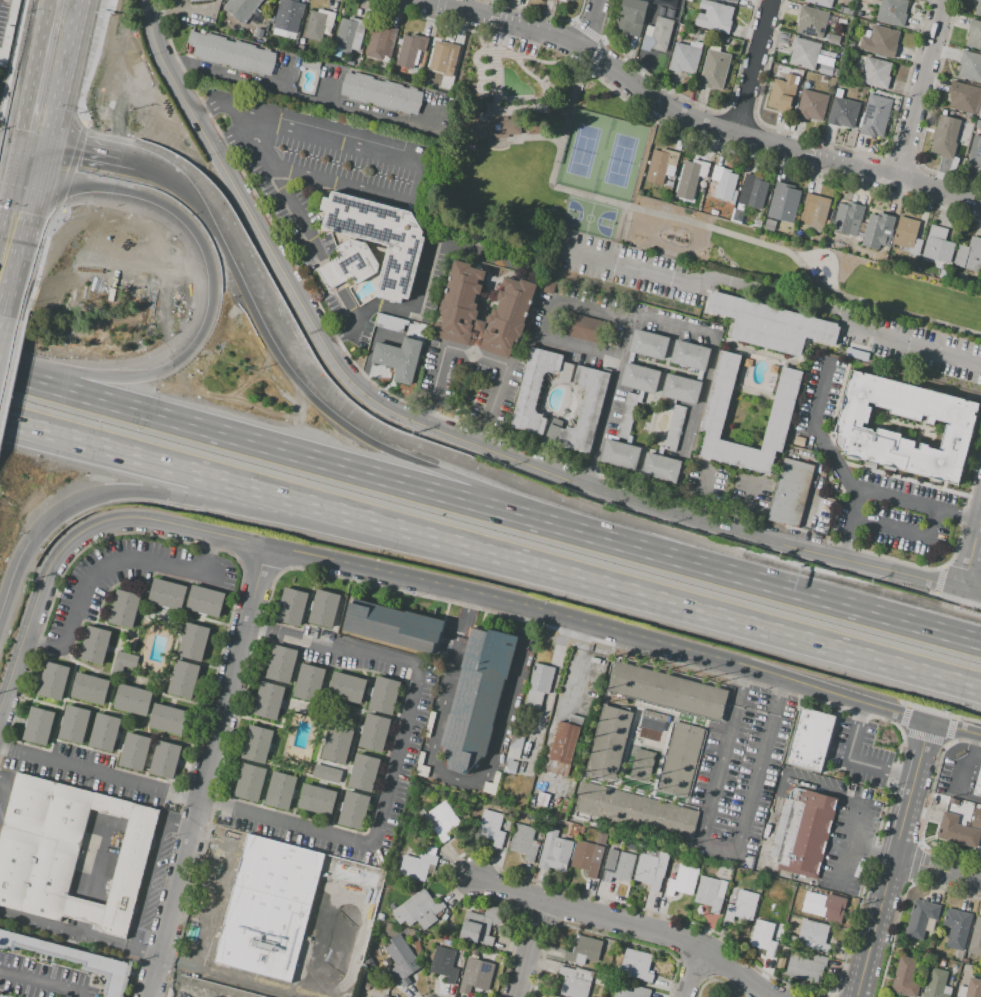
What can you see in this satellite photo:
building: (196, 0)
building: (563, 0)
building: (570, 0)
building: (732, 1)
building: (821, 2)
building: (673, 4)
building: (244, 8)
building: (978, 8)
road: (532, 11)
building: (847, 11)
building: (892, 11)
building: (663, 12)
road: (410, 13)
building: (859, 13)
building: (288, 15)
building: (673, 15)
building: (631, 16)
building: (714, 16)
building: (831, 20)
road: (590, 22)
building: (811, 22)
building: (318, 24)
building: (350, 33)
building: (867, 33)
building: (657, 35)
building: (974, 35)
building: (724, 39)
building: (834, 39)
road: (600, 40)
building: (381, 42)
building: (880, 42)
building: (410, 50)
building: (232, 53)
building: (804, 53)
building: (685, 57)
building: (444, 58)
road: (93, 61)
building: (310, 64)
road: (750, 65)
building: (970, 66)
building: (715, 68)
building: (826, 69)
road: (36, 70)
building: (875, 73)
road: (69, 74)
road: (919, 88)
building: (381, 93)
building: (838, 93)
road: (297, 95)
building: (782, 95)
building: (963, 97)
building: (812, 105)
road: (209, 108)
building: (980, 111)
building: (843, 112)
building: (875, 116)
road: (235, 117)
road: (700, 118)
building: (501, 126)
building: (944, 136)
road: (233, 140)
traffic signals: (21, 141)
road: (37, 145)
road: (259, 148)
building: (975, 148)
traffic signals: (54, 149)
road: (417, 152)
road: (87, 156)
park: (602, 157)
road: (17, 159)
road: (72, 165)
building: (661, 165)
road: (50, 166)
road: (133, 168)
building: (692, 174)
traffic signals: (14, 178)
road: (30, 181)
building: (724, 183)
traffic signals: (46, 184)
building: (752, 192)
park: (638, 194)
building: (783, 202)
road: (208, 209)
building: (814, 211)
building: (736, 212)
road: (7, 213)
park: (590, 218)
building: (847, 218)
road: (174, 222)
road: (705, 226)
building: (878, 231)
building: (907, 234)
building: (378, 237)
road: (311, 242)
building: (937, 245)
road: (30, 251)
building: (969, 255)
building: (354, 260)
road: (425, 270)
road: (36, 282)
road: (774, 294)
building: (510, 310)
road: (366, 314)
building: (771, 326)
building: (586, 330)
road: (341, 332)
road: (561, 342)
building: (648, 345)
traffic signals: (186, 347)
building: (392, 348)
building: (857, 351)
road: (8, 354)
building: (690, 355)
road: (476, 356)
road: (617, 364)
building: (483, 371)
road: (96, 376)
road: (12, 378)
building: (641, 378)
road: (705, 382)
building: (536, 388)
building: (681, 389)
building: (717, 401)
building: (586, 410)
road: (5, 412)
building: (626, 416)
road: (815, 428)
building: (852, 429)
road: (1, 431)
road: (57, 434)
road: (442, 434)
road: (57, 440)
road: (424, 452)
building: (620, 455)
road: (333, 463)
building: (661, 468)
building: (789, 492)
road: (881, 494)
road: (699, 495)
road: (325, 507)
road: (744, 507)
road: (276, 517)
road: (904, 529)
traffic signals: (28, 539)
road: (970, 549)
road: (108, 563)
road: (11, 572)
road: (407, 578)
road: (970, 591)
building: (167, 594)
road: (817, 598)
building: (204, 601)
road: (965, 604)
building: (291, 606)
building: (324, 608)
building: (124, 609)
road: (464, 615)
building: (392, 625)
road: (758, 626)
road: (583, 637)
road: (974, 641)
building: (192, 642)
building: (95, 645)
building: (123, 662)
building: (281, 664)
road: (570, 679)
building: (53, 680)
building: (183, 680)
building: (309, 682)
building: (346, 687)
building: (538, 687)
road: (742, 687)
building: (90, 688)
building: (667, 691)
building: (383, 695)
building: (476, 697)
road: (778, 697)
building: (133, 699)
building: (267, 700)
road: (953, 717)
building: (653, 718)
building: (167, 719)
building: (74, 723)
building: (651, 724)
building: (38, 725)
road: (954, 728)
building: (104, 732)
building: (374, 733)
building: (809, 739)
building: (609, 742)
building: (257, 744)
building: (337, 744)
building: (564, 745)
building: (133, 750)
building: (514, 752)
road: (976, 753)
building: (680, 757)
building: (164, 760)
road: (851, 763)
road: (968, 763)
building: (642, 765)
road: (209, 772)
building: (363, 772)
building: (327, 774)
road: (476, 780)
building: (250, 783)
road: (5, 784)
building: (978, 786)
building: (280, 791)
road: (971, 795)
building: (317, 800)
road: (858, 809)
building: (353, 810)
building: (636, 811)
building: (976, 818)
building: (443, 821)
building: (491, 828)
building: (957, 830)
building: (803, 831)
building: (572, 832)
building: (601, 838)
building: (524, 841)
road: (362, 844)
road: (719, 849)
building: (554, 852)
road: (872, 852)
building: (67, 853)
building: (586, 857)
road: (894, 859)
building: (418, 864)
building: (617, 865)
road: (938, 869)
building: (651, 870)
building: (353, 877)
building: (682, 880)
road: (145, 885)
road: (216, 886)
building: (710, 893)
road: (365, 904)
building: (742, 906)
building: (826, 907)
building: (268, 908)
building: (418, 911)
building: (920, 918)
road: (629, 923)
building: (477, 928)
building: (957, 928)
road: (64, 930)
building: (815, 934)
building: (763, 937)
building: (976, 938)
road: (526, 947)
building: (583, 950)
building: (74, 959)
building: (402, 960)
building: (445, 964)
building: (636, 966)
building: (804, 969)
road: (689, 970)
building: (477, 974)
parking lot: (46, 976)
building: (904, 977)
road: (235, 978)
building: (573, 983)
building: (935, 983)
road: (38, 985)
building: (973, 988)
building: (633, 992)
building: (384, 996)
building: (553, 996)
building: (957, 996)

